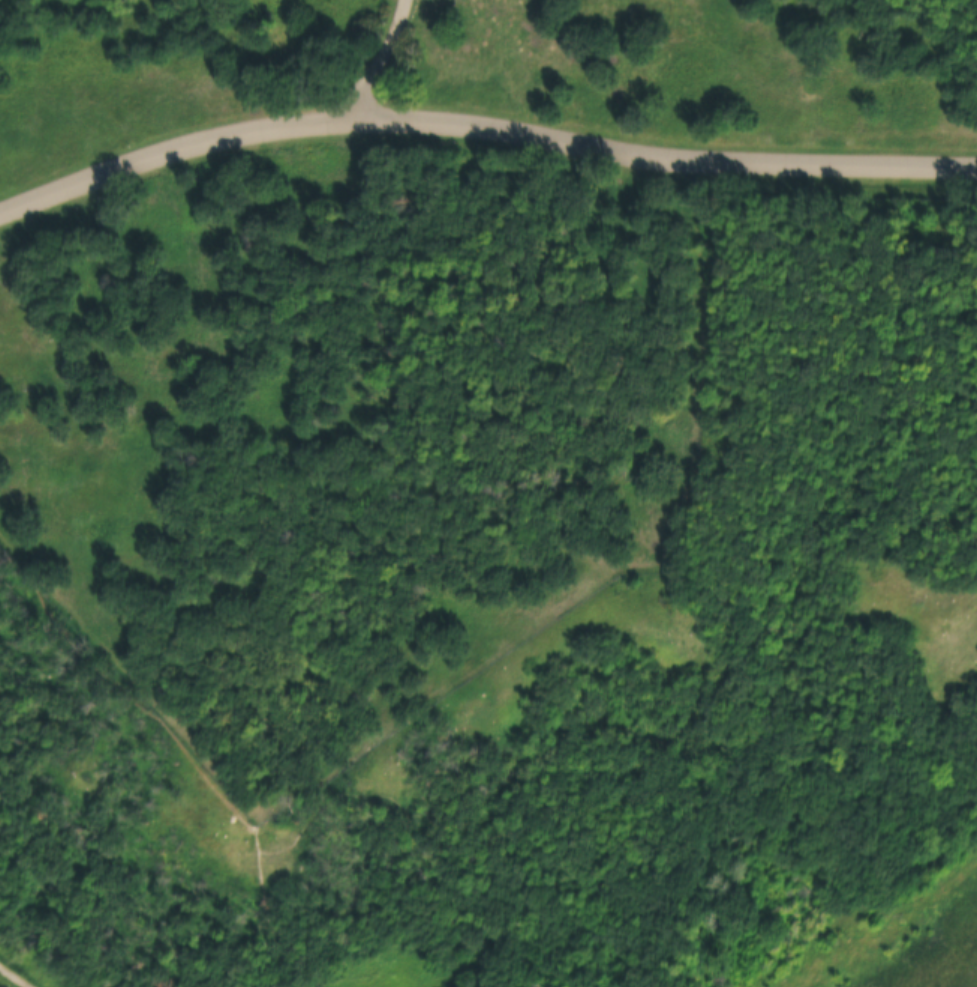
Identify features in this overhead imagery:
road: (384, 56)
road: (483, 120)
road: (10, 980)

